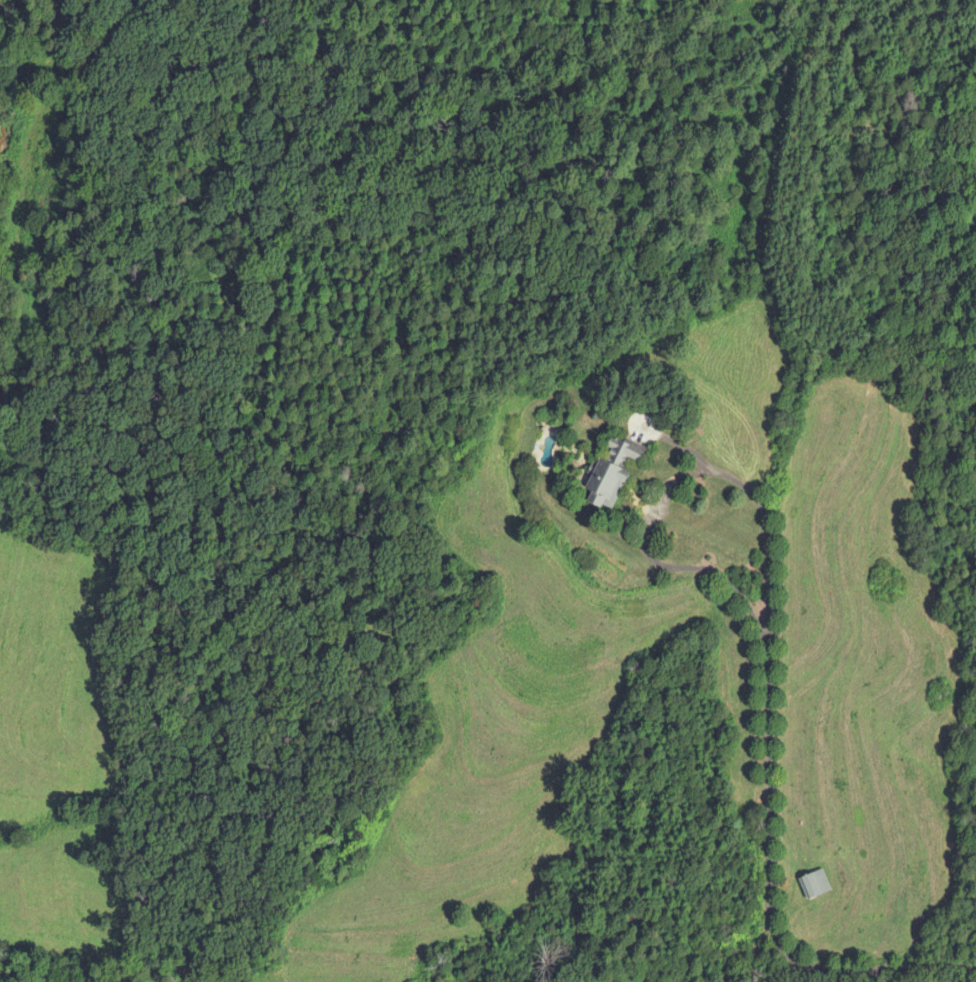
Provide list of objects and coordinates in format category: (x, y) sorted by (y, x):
building: (611, 472)
road: (671, 481)
building: (813, 884)
road: (768, 894)

